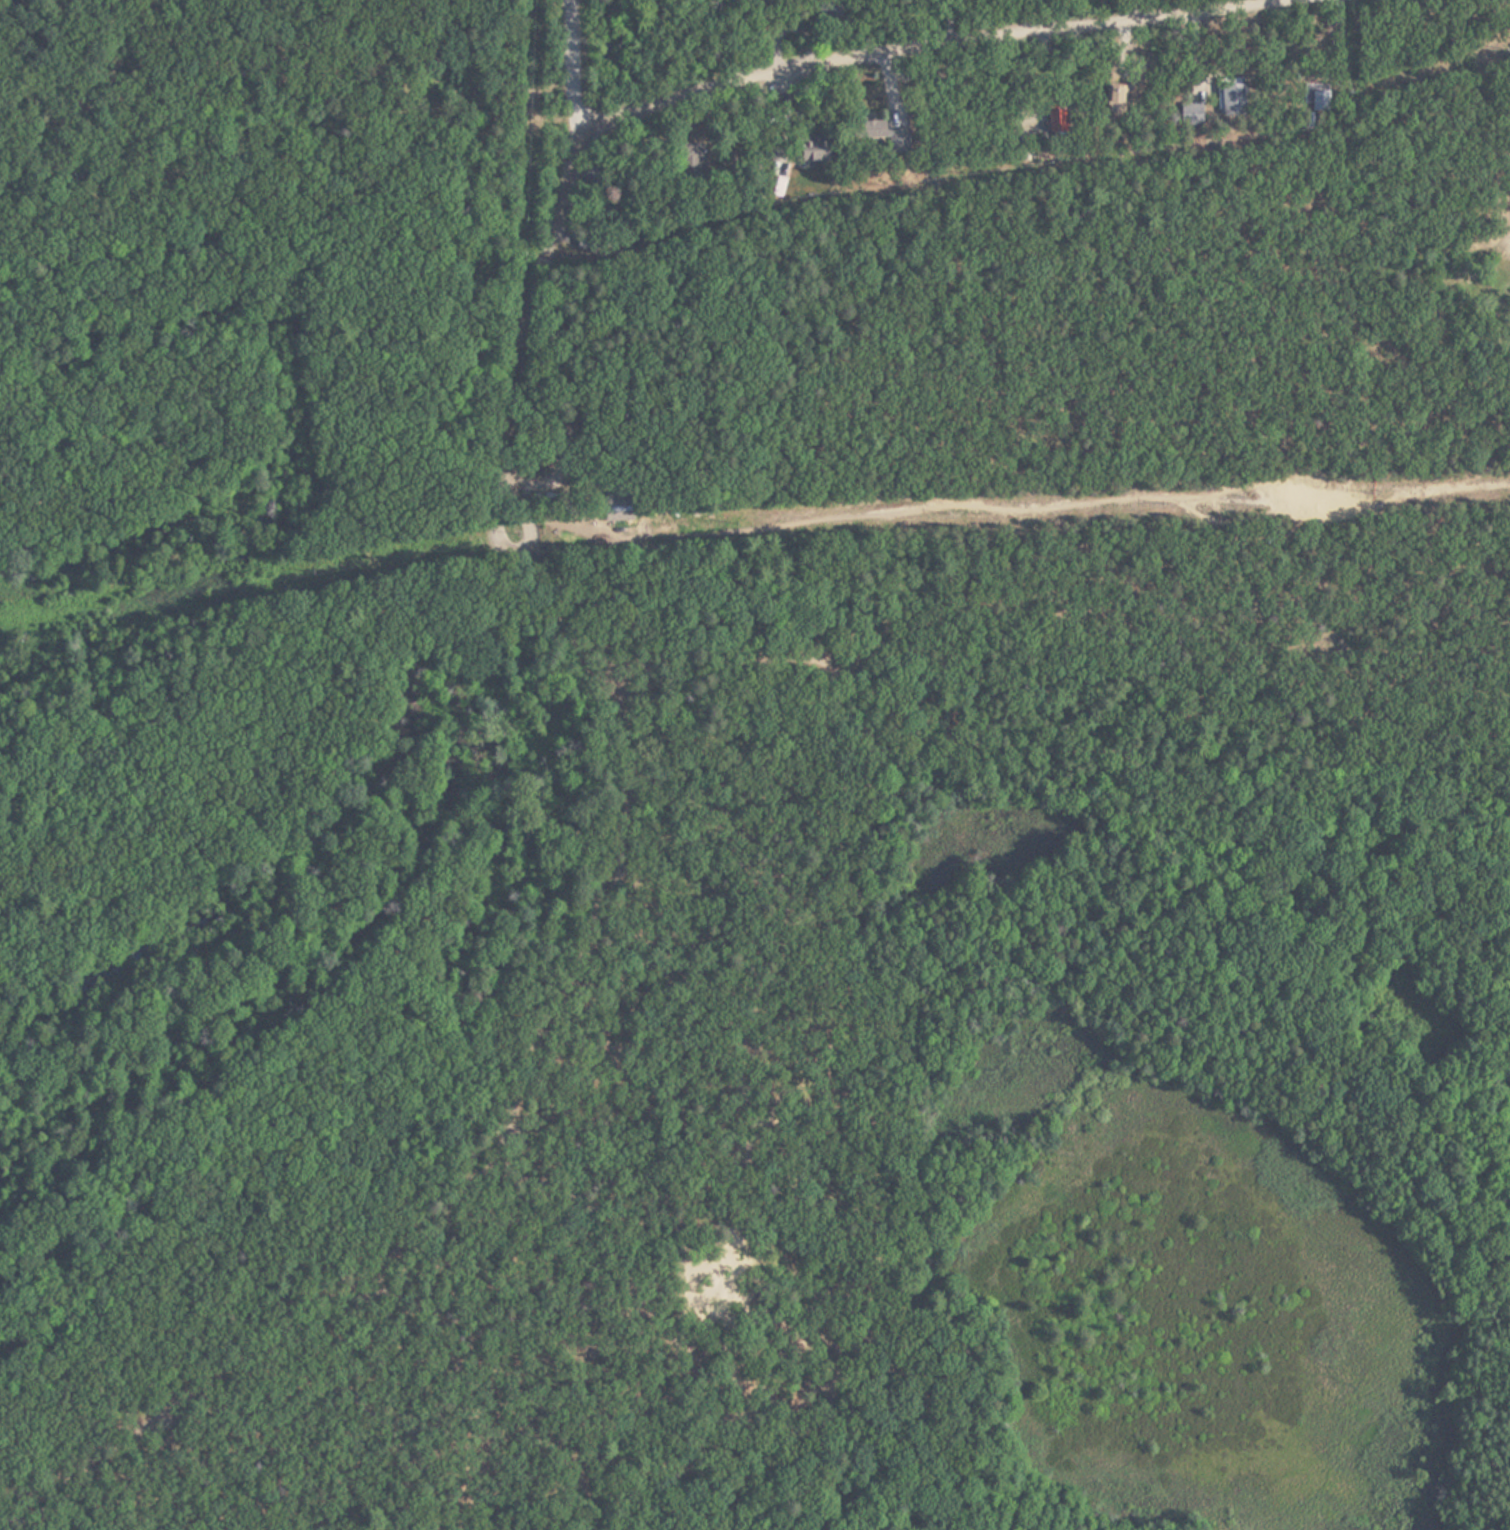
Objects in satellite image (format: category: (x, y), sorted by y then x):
road: (570, 60)
building: (1231, 97)
building: (1193, 114)
building: (1058, 123)
building: (872, 130)
building: (899, 140)
building: (813, 150)
road: (297, 198)
road: (1024, 511)
road: (563, 620)
road: (1183, 721)
road: (862, 980)
quarry: (1210, 1322)

